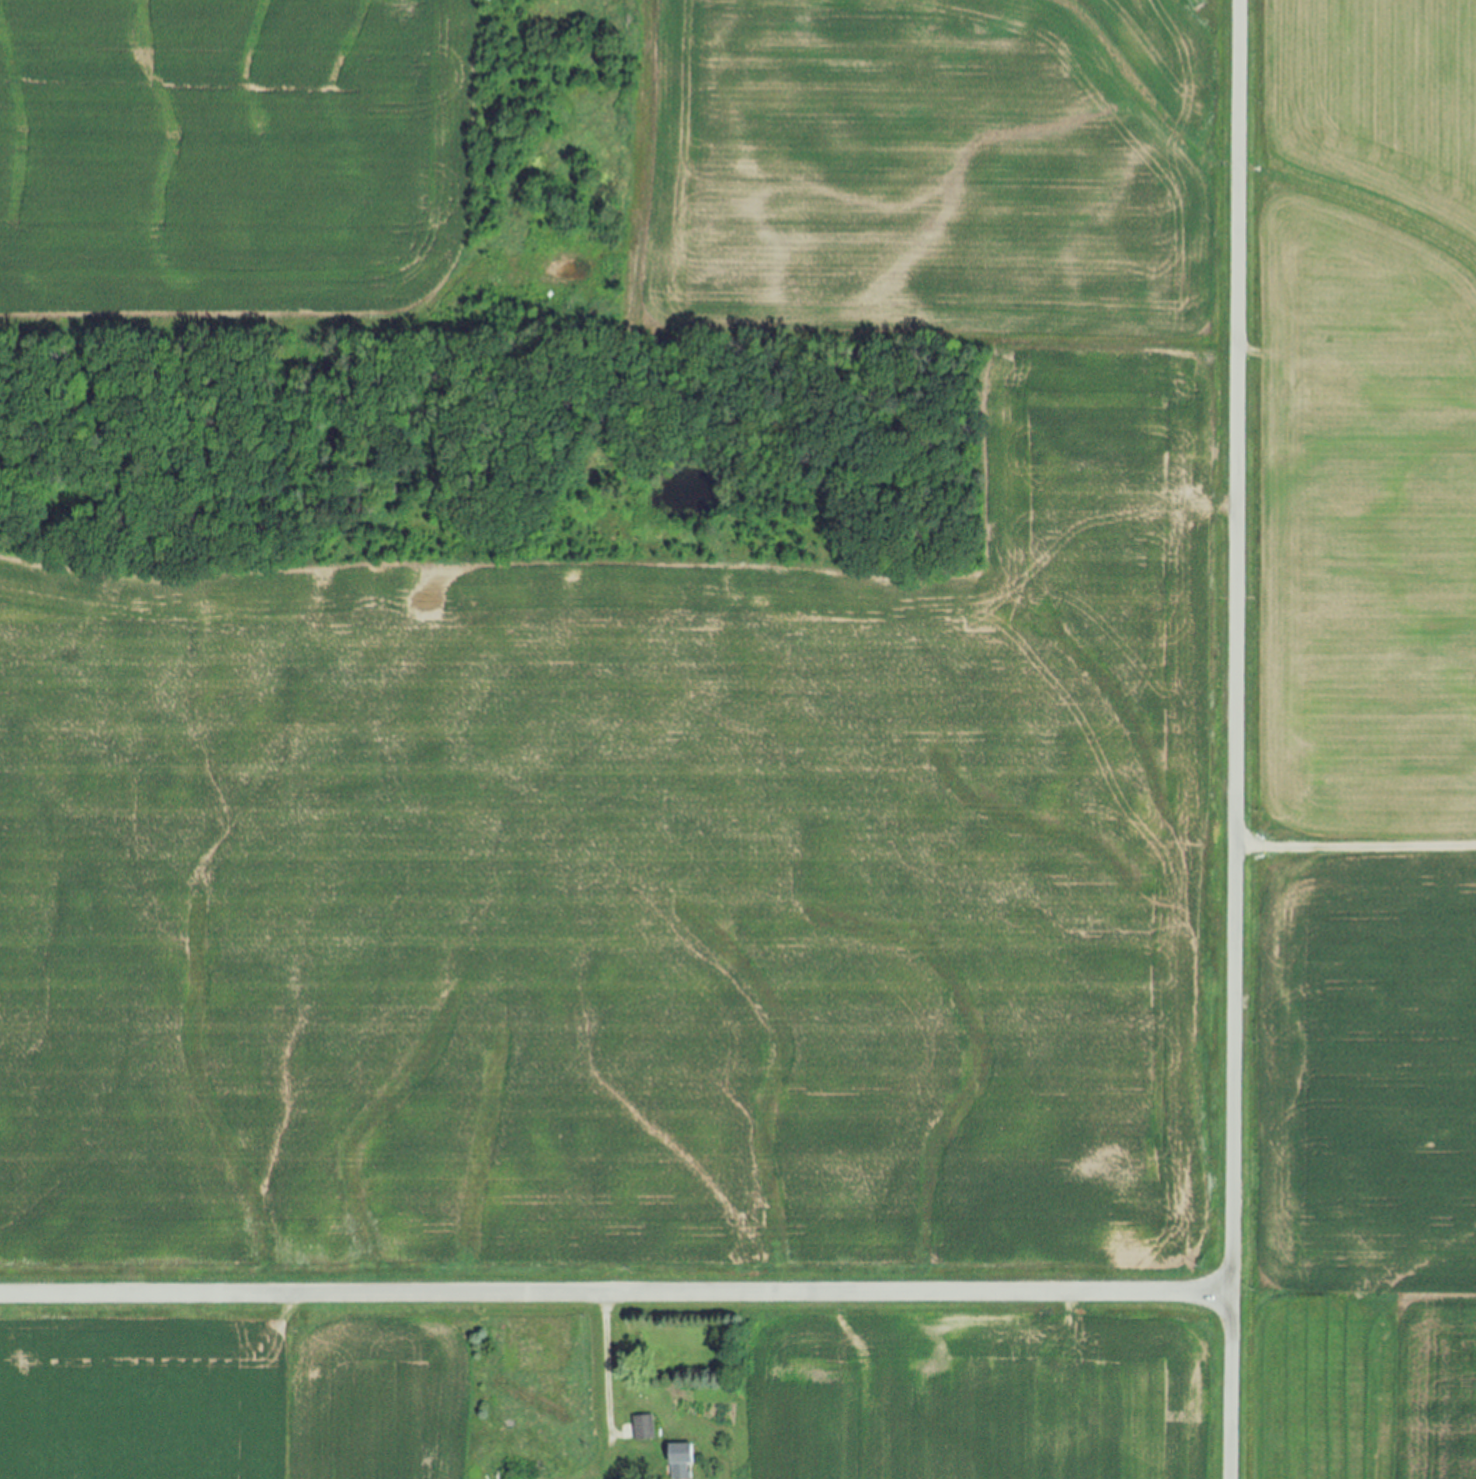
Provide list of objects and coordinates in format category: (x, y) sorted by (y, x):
road: (1233, 739)
road: (1354, 847)
road: (614, 1294)
road: (606, 1375)
building: (642, 1429)
building: (679, 1462)

